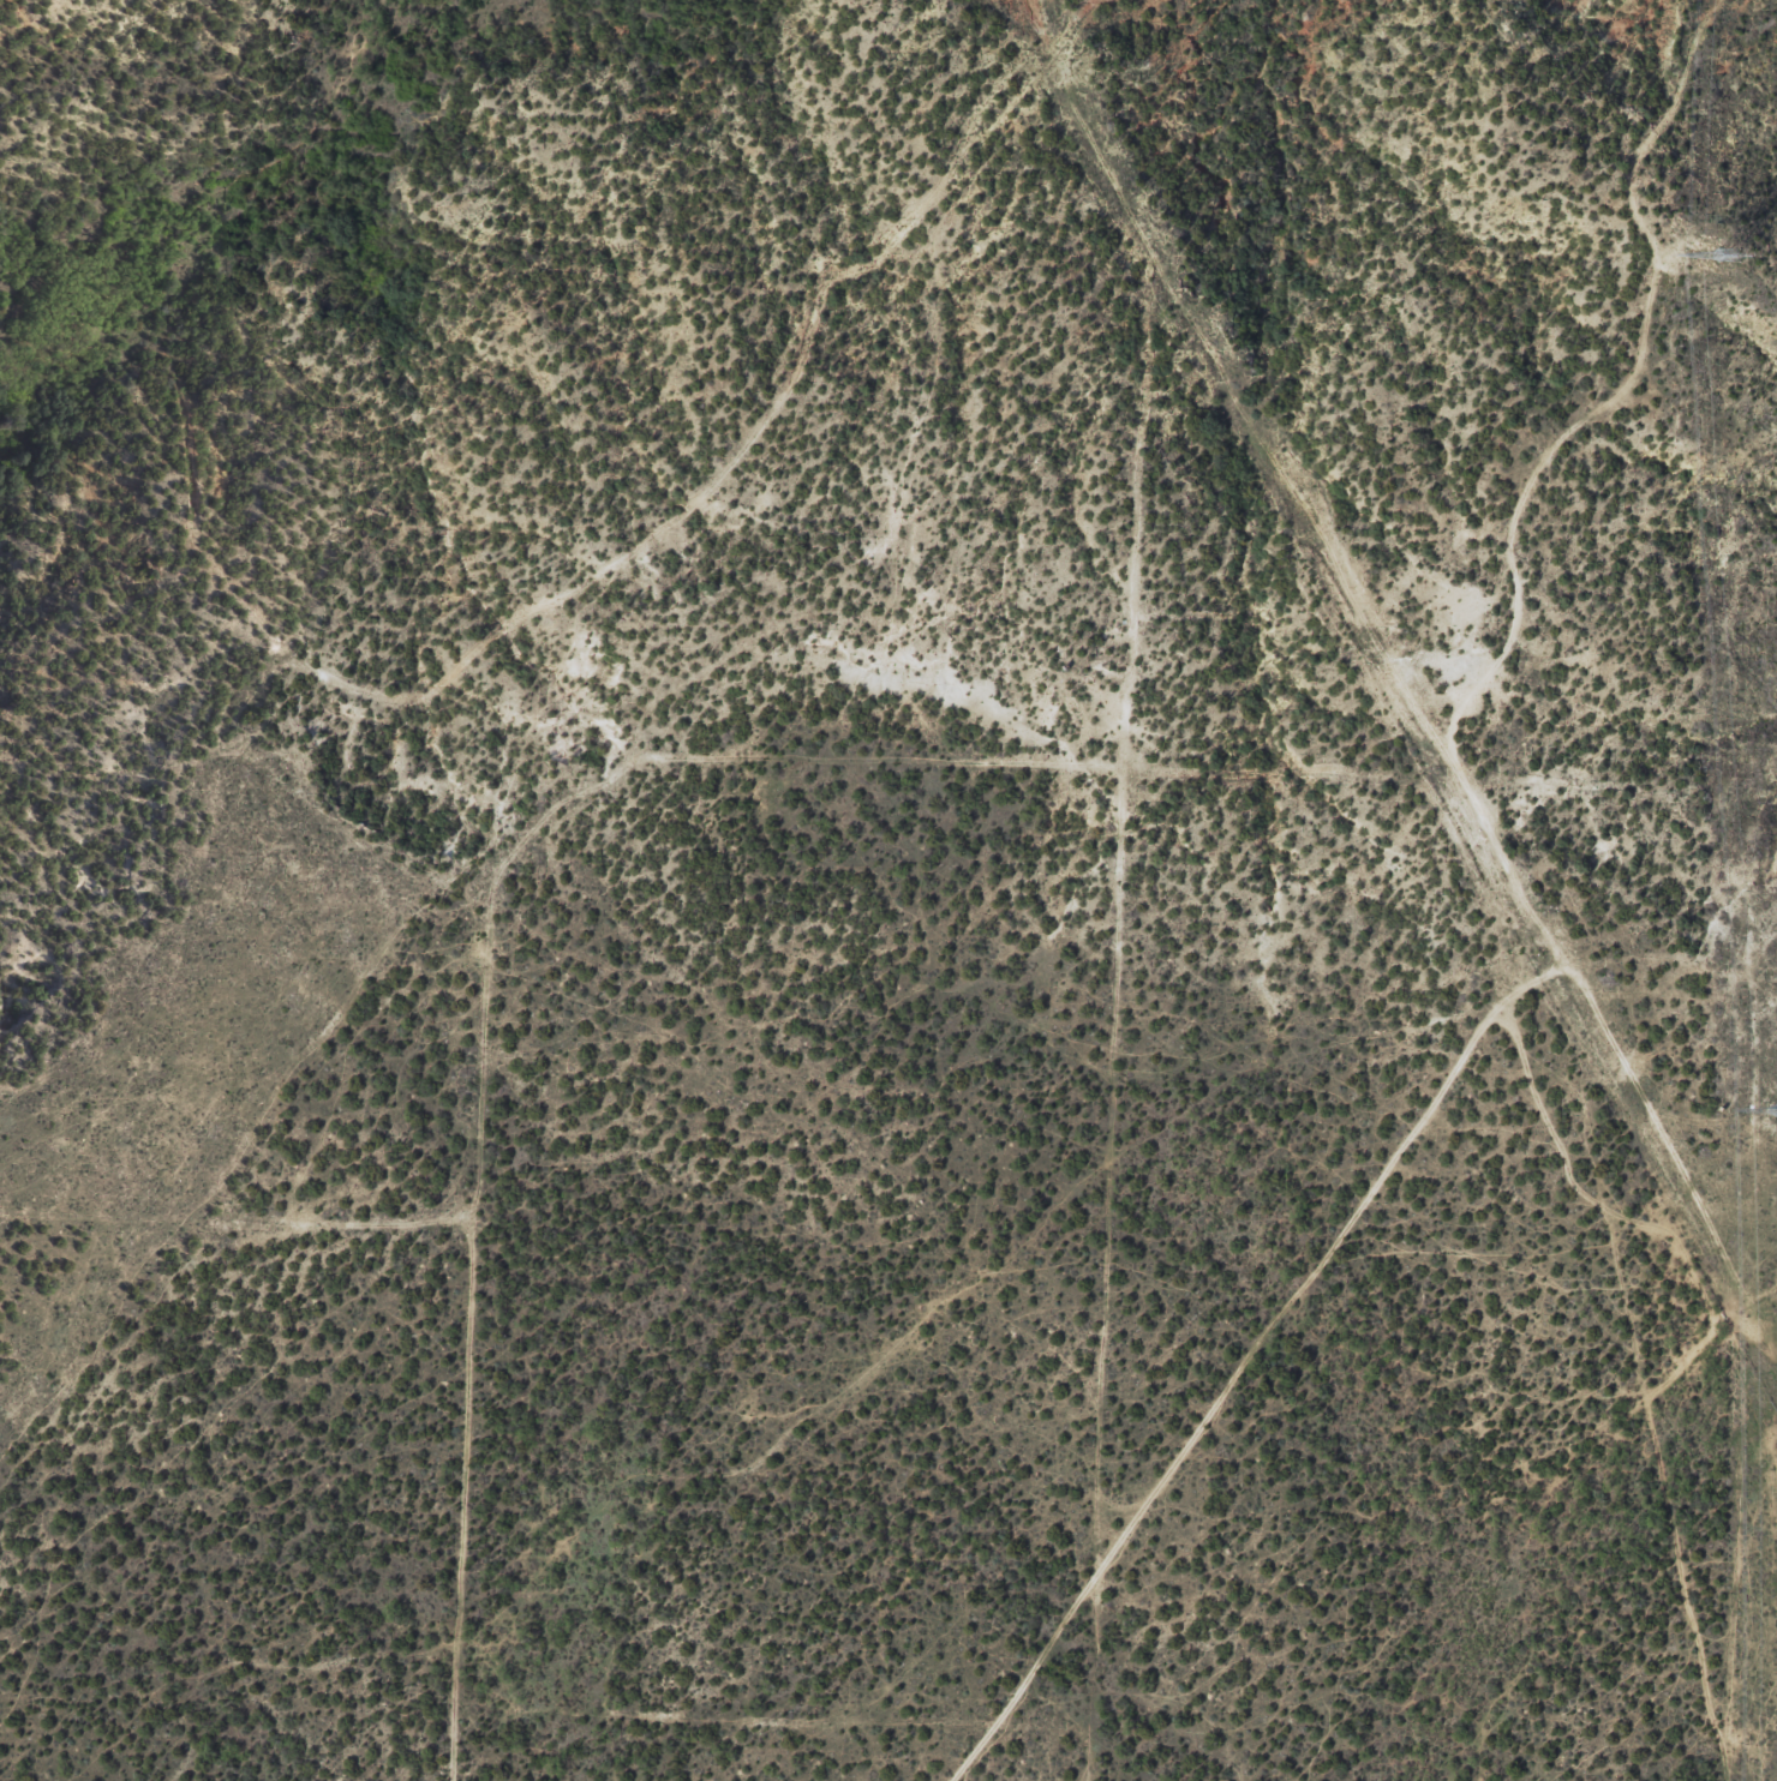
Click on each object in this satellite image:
power tower: (1734, 251)

